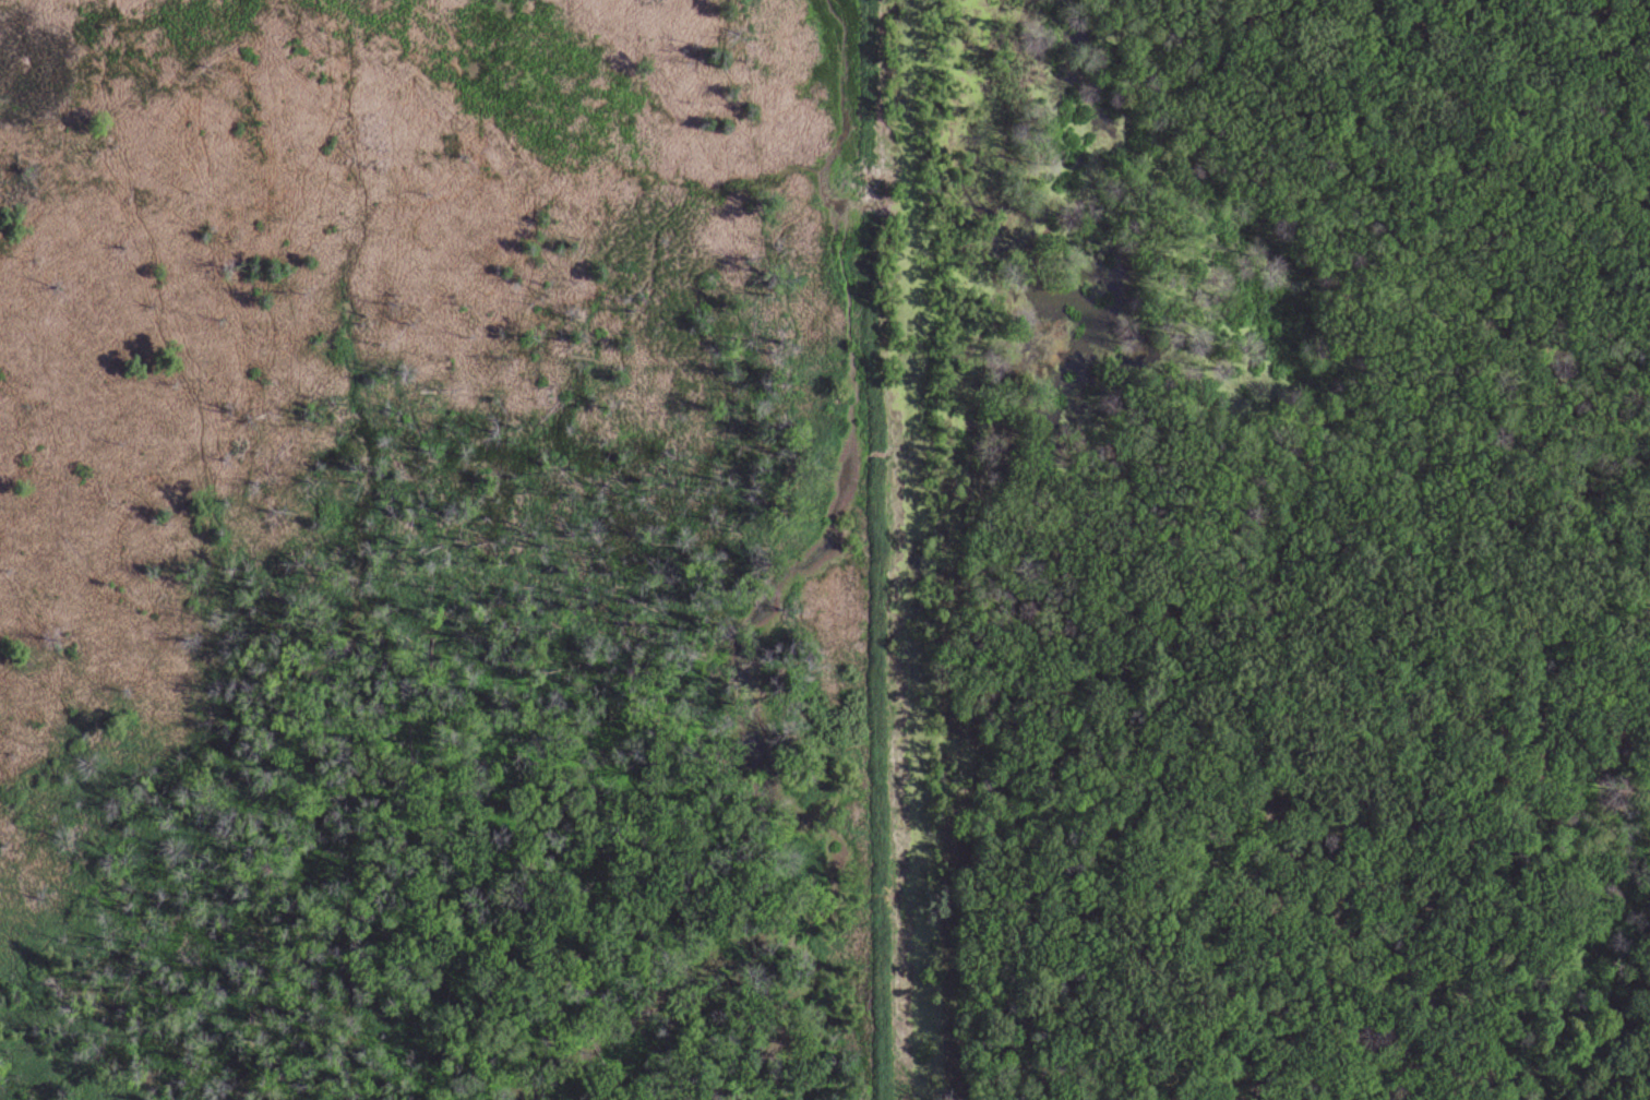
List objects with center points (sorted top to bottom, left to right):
road: (872, 550)

